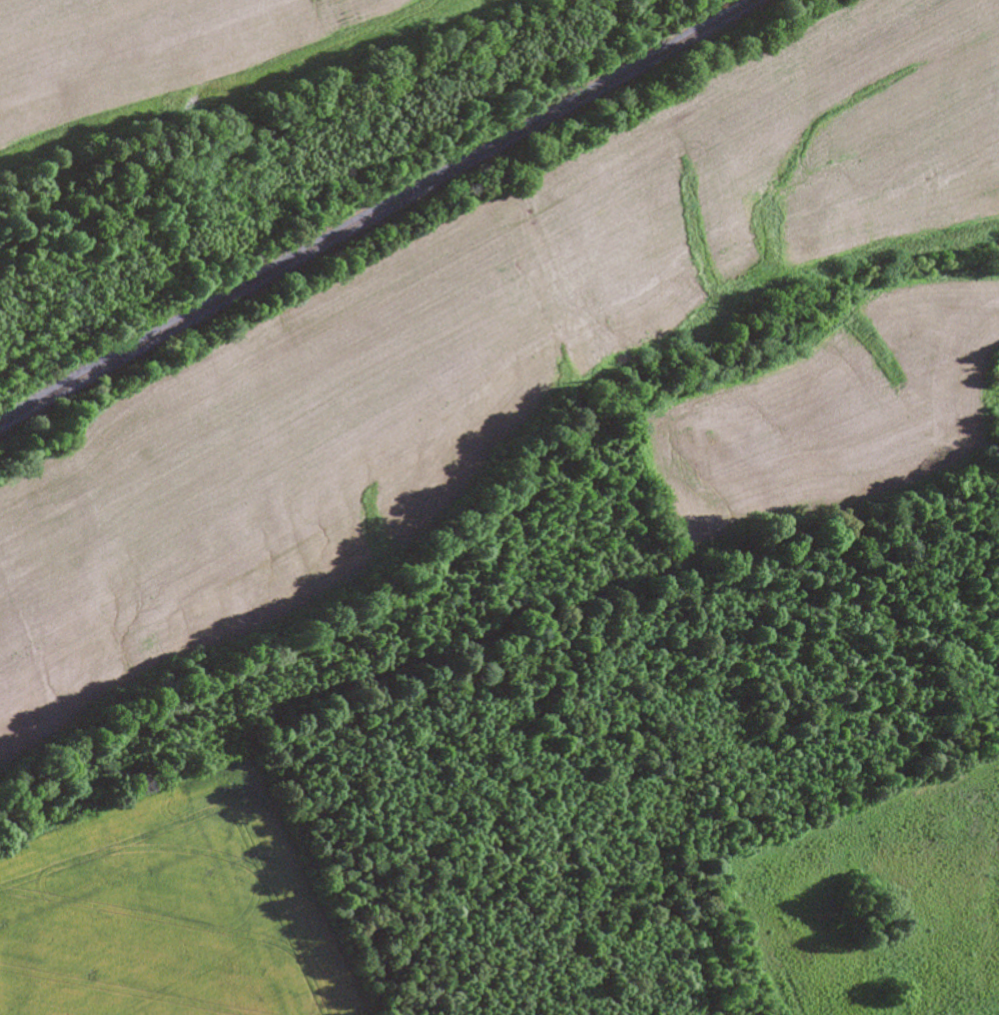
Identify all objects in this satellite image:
railway: (378, 211)

